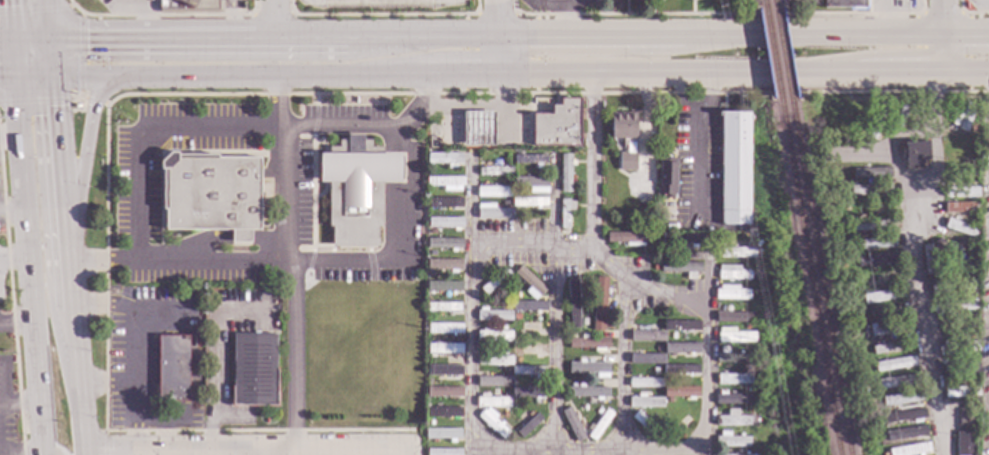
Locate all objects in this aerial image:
railway: (770, 4)
building: (844, 4)
railway: (760, 5)
building: (190, 6)
road: (35, 9)
road: (11, 17)
road: (47, 17)
road: (945, 18)
road: (280, 19)
road: (497, 19)
road: (6, 35)
traffic signals: (12, 35)
road: (30, 35)
traffic signals: (48, 36)
road: (150, 36)
road: (297, 37)
road: (421, 37)
road: (780, 37)
road: (913, 37)
road: (968, 37)
road: (591, 38)
road: (948, 53)
road: (499, 54)
road: (14, 55)
road: (49, 55)
railway: (779, 55)
railway: (769, 56)
road: (900, 69)
road: (968, 69)
road: (675, 71)
road: (457, 72)
road: (33, 74)
traffic signals: (51, 74)
road: (92, 74)
road: (274, 74)
road: (8, 75)
traffic signals: (16, 75)
road: (707, 95)
road: (80, 96)
road: (94, 102)
road: (18, 104)
road: (423, 105)
road: (476, 105)
building: (76, 106)
building: (898, 118)
building: (963, 118)
building: (878, 122)
gas station: (506, 124)
building: (557, 124)
building: (476, 127)
building: (973, 128)
road: (10, 133)
road: (85, 142)
building: (629, 145)
building: (958, 148)
road: (58, 152)
building: (572, 152)
building: (914, 153)
building: (443, 158)
building: (529, 159)
road: (696, 162)
road: (406, 168)
building: (734, 168)
building: (494, 171)
building: (564, 172)
building: (870, 173)
building: (831, 176)
building: (666, 177)
building: (509, 179)
building: (444, 182)
building: (532, 184)
building: (869, 190)
building: (493, 191)
building: (960, 192)
building: (829, 193)
building: (210, 194)
building: (355, 195)
building: (560, 197)
building: (529, 202)
building: (445, 204)
building: (844, 208)
building: (870, 208)
building: (961, 208)
building: (492, 212)
building: (565, 212)
road: (13, 214)
building: (444, 223)
building: (871, 226)
building: (961, 229)
building: (627, 239)
building: (681, 240)
building: (444, 243)
building: (874, 243)
road: (532, 245)
building: (849, 246)
building: (660, 250)
building: (734, 252)
building: (431, 253)
building: (944, 255)
building: (927, 259)
road: (15, 260)
road: (289, 260)
building: (874, 260)
building: (961, 262)
building: (444, 265)
building: (842, 265)
building: (679, 267)
road: (105, 270)
road: (68, 272)
building: (731, 273)
building: (972, 274)
building: (877, 278)
railway: (806, 279)
railway: (817, 279)
building: (846, 279)
building: (494, 281)
building: (529, 282)
building: (443, 287)
building: (953, 287)
building: (498, 288)
road: (32, 293)
building: (731, 293)
building: (517, 295)
building: (882, 296)
building: (856, 299)
building: (572, 304)
building: (599, 304)
building: (526, 305)
building: (506, 306)
building: (444, 307)
building: (954, 307)
road: (11, 308)
building: (438, 314)
building: (764, 315)
building: (493, 316)
building: (732, 318)
road: (16, 321)
building: (583, 322)
road: (922, 323)
building: (681, 326)
building: (609, 327)
building: (444, 328)
building: (502, 328)
building: (529, 328)
building: (658, 329)
building: (888, 330)
building: (493, 336)
building: (572, 336)
building: (647, 337)
building: (971, 337)
building: (516, 338)
building: (736, 338)
road: (139, 341)
building: (589, 343)
building: (683, 347)
building: (746, 347)
building: (891, 347)
building: (956, 347)
building: (444, 348)
road: (552, 348)
building: (499, 349)
building: (527, 349)
building: (657, 349)
building: (733, 358)
building: (646, 359)
road: (210, 360)
building: (494, 360)
building: (589, 361)
building: (856, 362)
building: (894, 364)
road: (623, 365)
building: (171, 368)
building: (590, 369)
building: (748, 369)
building: (953, 369)
building: (680, 370)
building: (253, 371)
building: (444, 371)
building: (528, 371)
building: (656, 371)
building: (667, 379)
building: (733, 380)
building: (955, 380)
road: (5, 382)
building: (493, 382)
building: (897, 382)
road: (78, 383)
building: (645, 383)
building: (428, 384)
building: (514, 384)
building: (573, 384)
building: (587, 391)
building: (748, 391)
building: (443, 392)
building: (528, 392)
building: (680, 392)
building: (960, 392)
building: (864, 393)
building: (732, 399)
building: (901, 399)
building: (669, 401)
road: (19, 402)
building: (492, 402)
building: (865, 402)
building: (646, 403)
building: (748, 407)
building: (584, 408)
building: (599, 412)
building: (444, 413)
building: (529, 414)
building: (968, 414)
building: (902, 417)
building: (734, 421)
building: (431, 423)
building: (492, 423)
building: (573, 423)
building: (644, 424)
building: (599, 425)
building: (528, 426)
building: (678, 427)
building: (442, 433)
building: (906, 433)
building: (740, 435)
building: (869, 436)
building: (732, 442)
building: (963, 443)
road: (104, 445)
road: (251, 447)
building: (910, 449)
road: (665, 450)
road: (258, 451)
building: (738, 451)
building: (442, 452)
road: (33, 454)
road: (47, 454)
building: (735, 454)
building: (885, 454)

